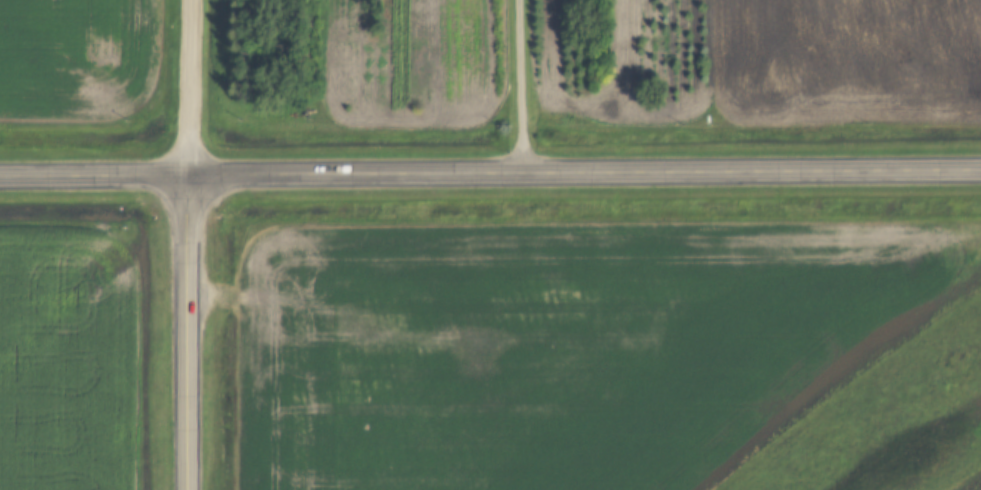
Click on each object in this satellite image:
crop: (77, 60)
crop: (845, 61)
road: (520, 87)
road: (188, 89)
road: (490, 176)
road: (187, 334)
crop: (554, 348)
crop: (74, 362)
crop: (976, 485)

